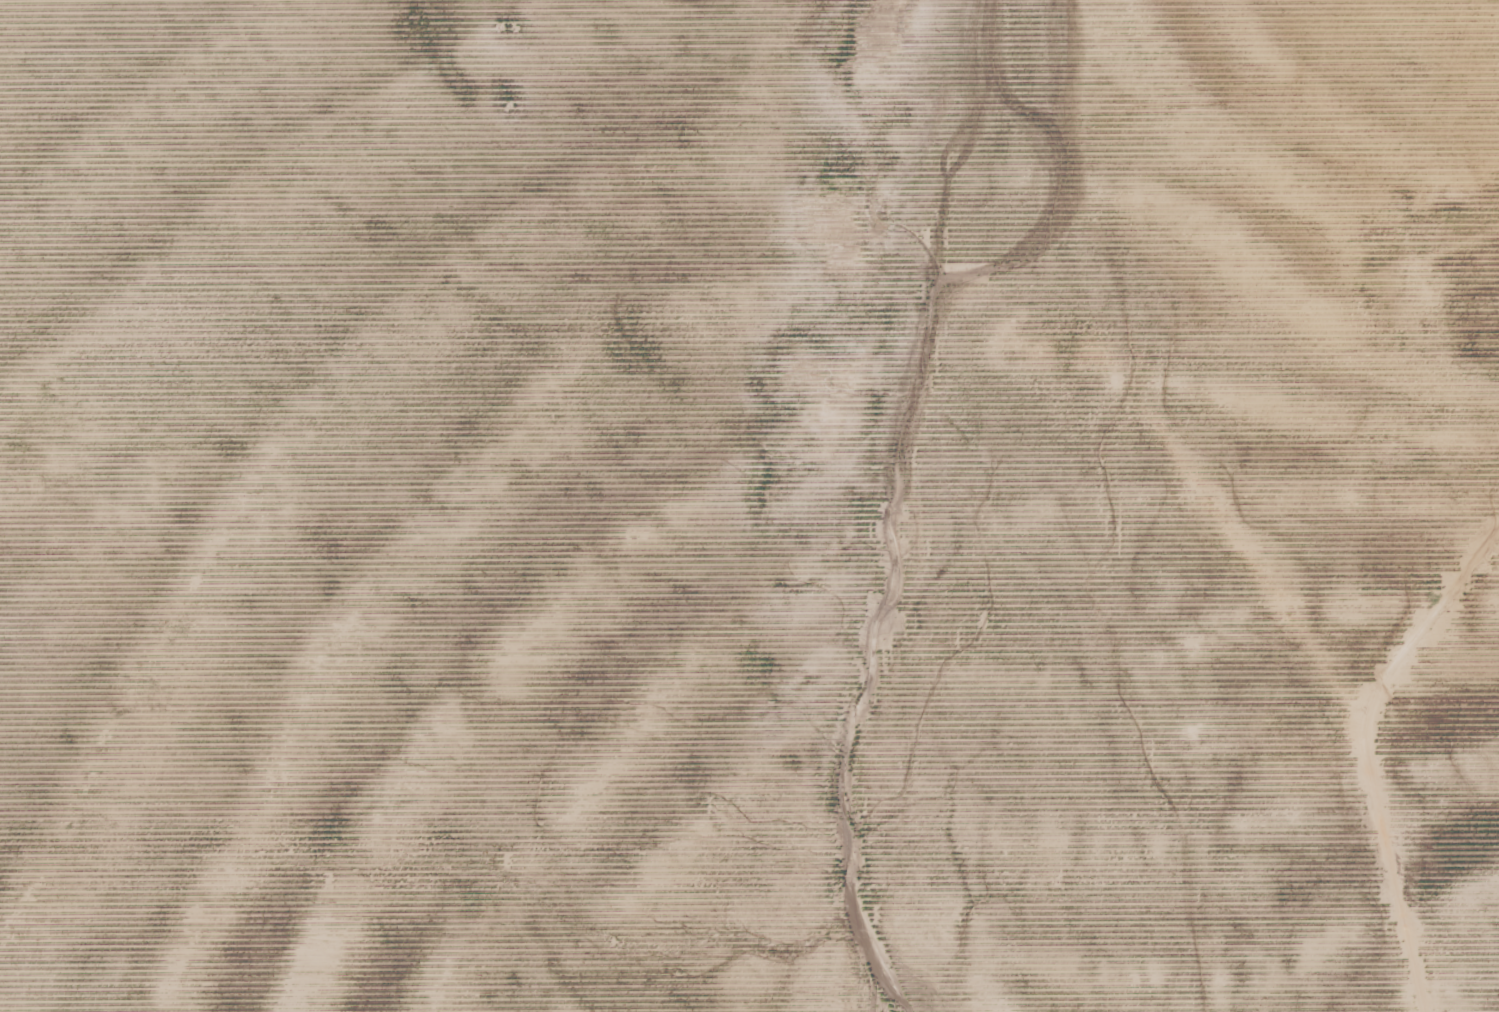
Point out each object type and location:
road: (1215, 515)
road: (1374, 756)

